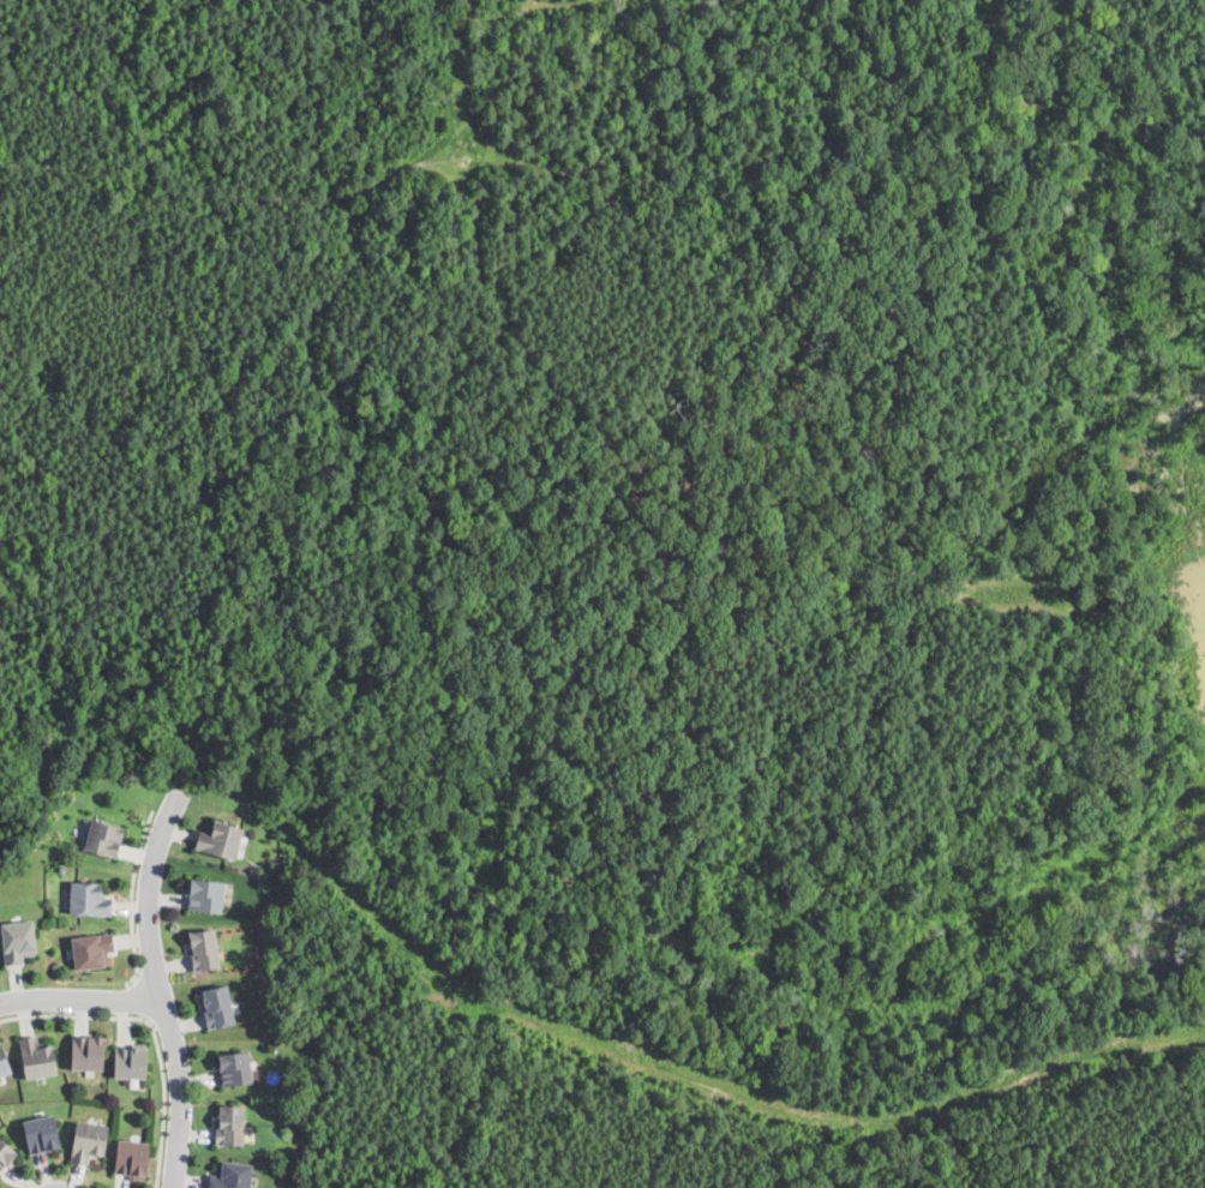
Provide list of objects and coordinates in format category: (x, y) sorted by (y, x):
park: (1182, 608)
building: (124, 804)
building: (121, 817)
building: (104, 838)
building: (220, 839)
building: (206, 895)
building: (89, 898)
road: (130, 898)
building: (18, 941)
building: (92, 949)
building: (203, 949)
road: (161, 985)
road: (140, 996)
road: (82, 997)
building: (217, 1007)
road: (152, 1028)
building: (88, 1051)
building: (37, 1057)
building: (130, 1062)
building: (4, 1063)
building: (235, 1068)
building: (229, 1124)
building: (41, 1134)
building: (88, 1140)
building: (6, 1154)
building: (131, 1158)
building: (230, 1175)

